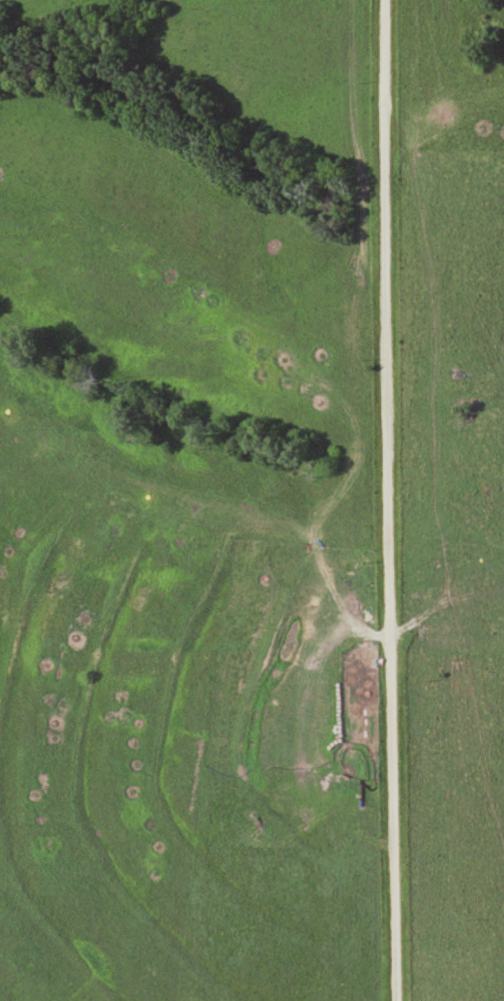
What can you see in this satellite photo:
road: (390, 500)

